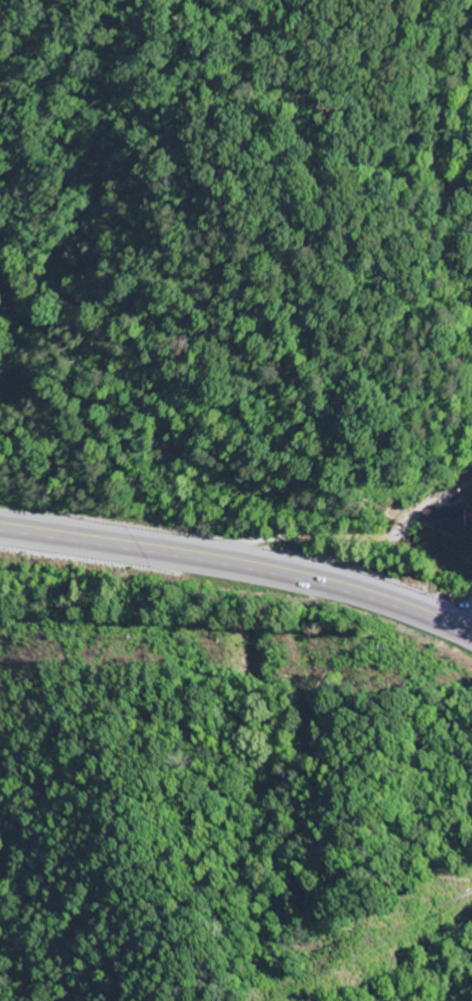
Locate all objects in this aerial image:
building: (469, 517)
building: (440, 521)
road: (352, 539)
road: (240, 560)

